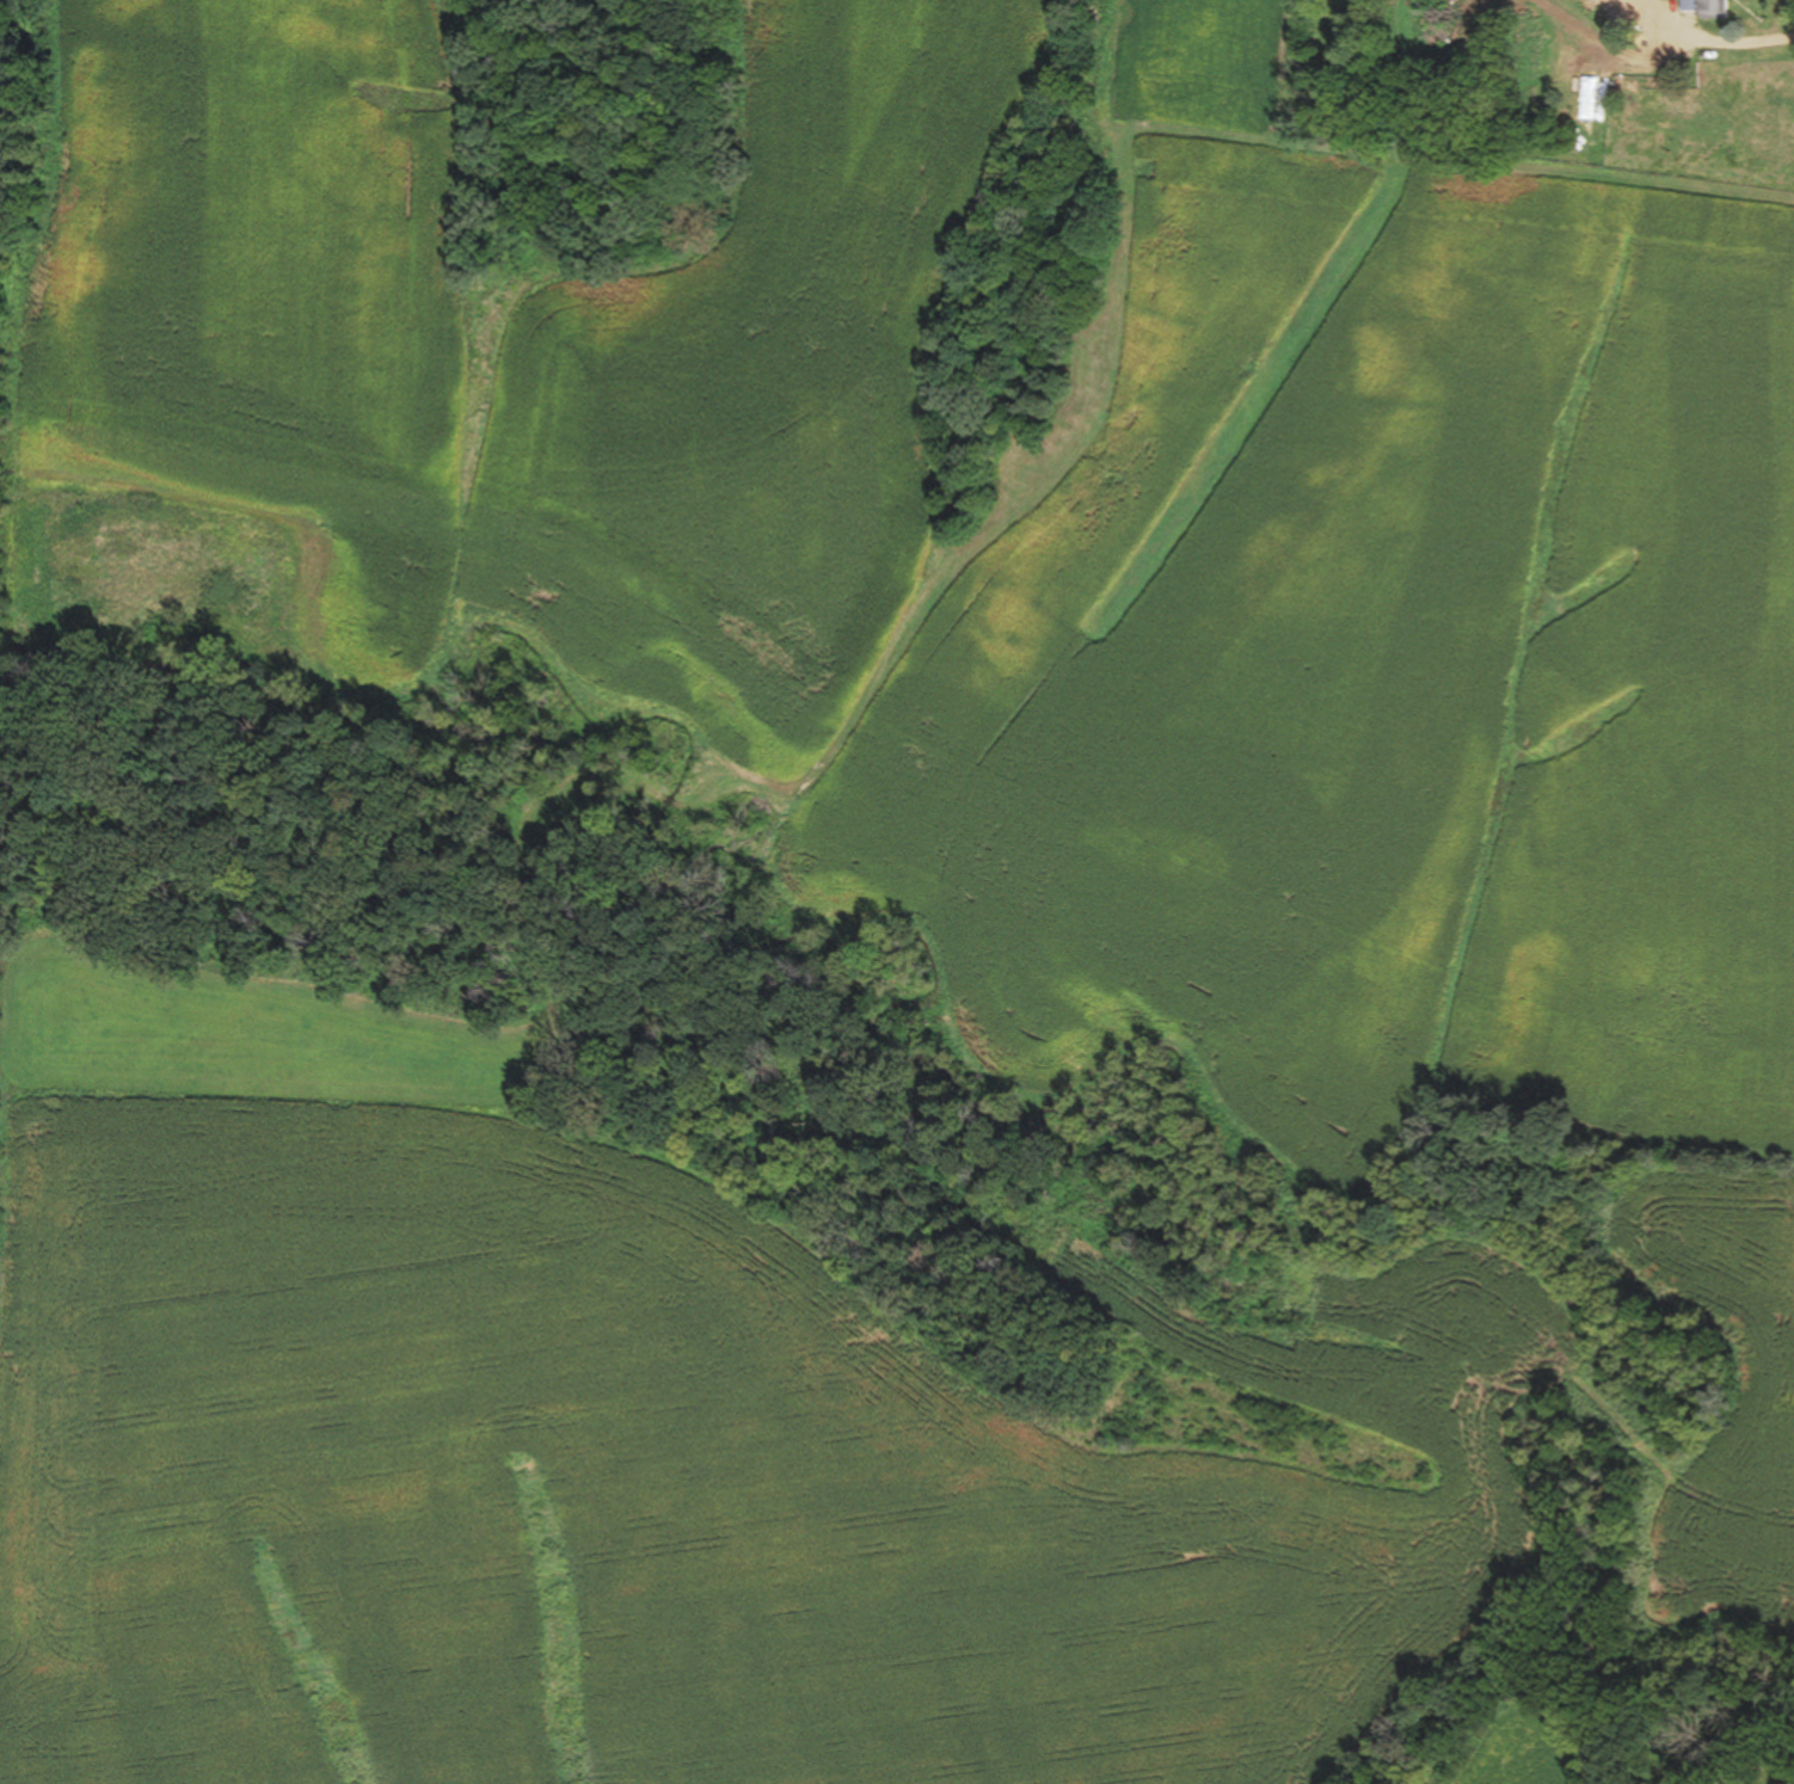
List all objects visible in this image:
building: (1712, 8)

